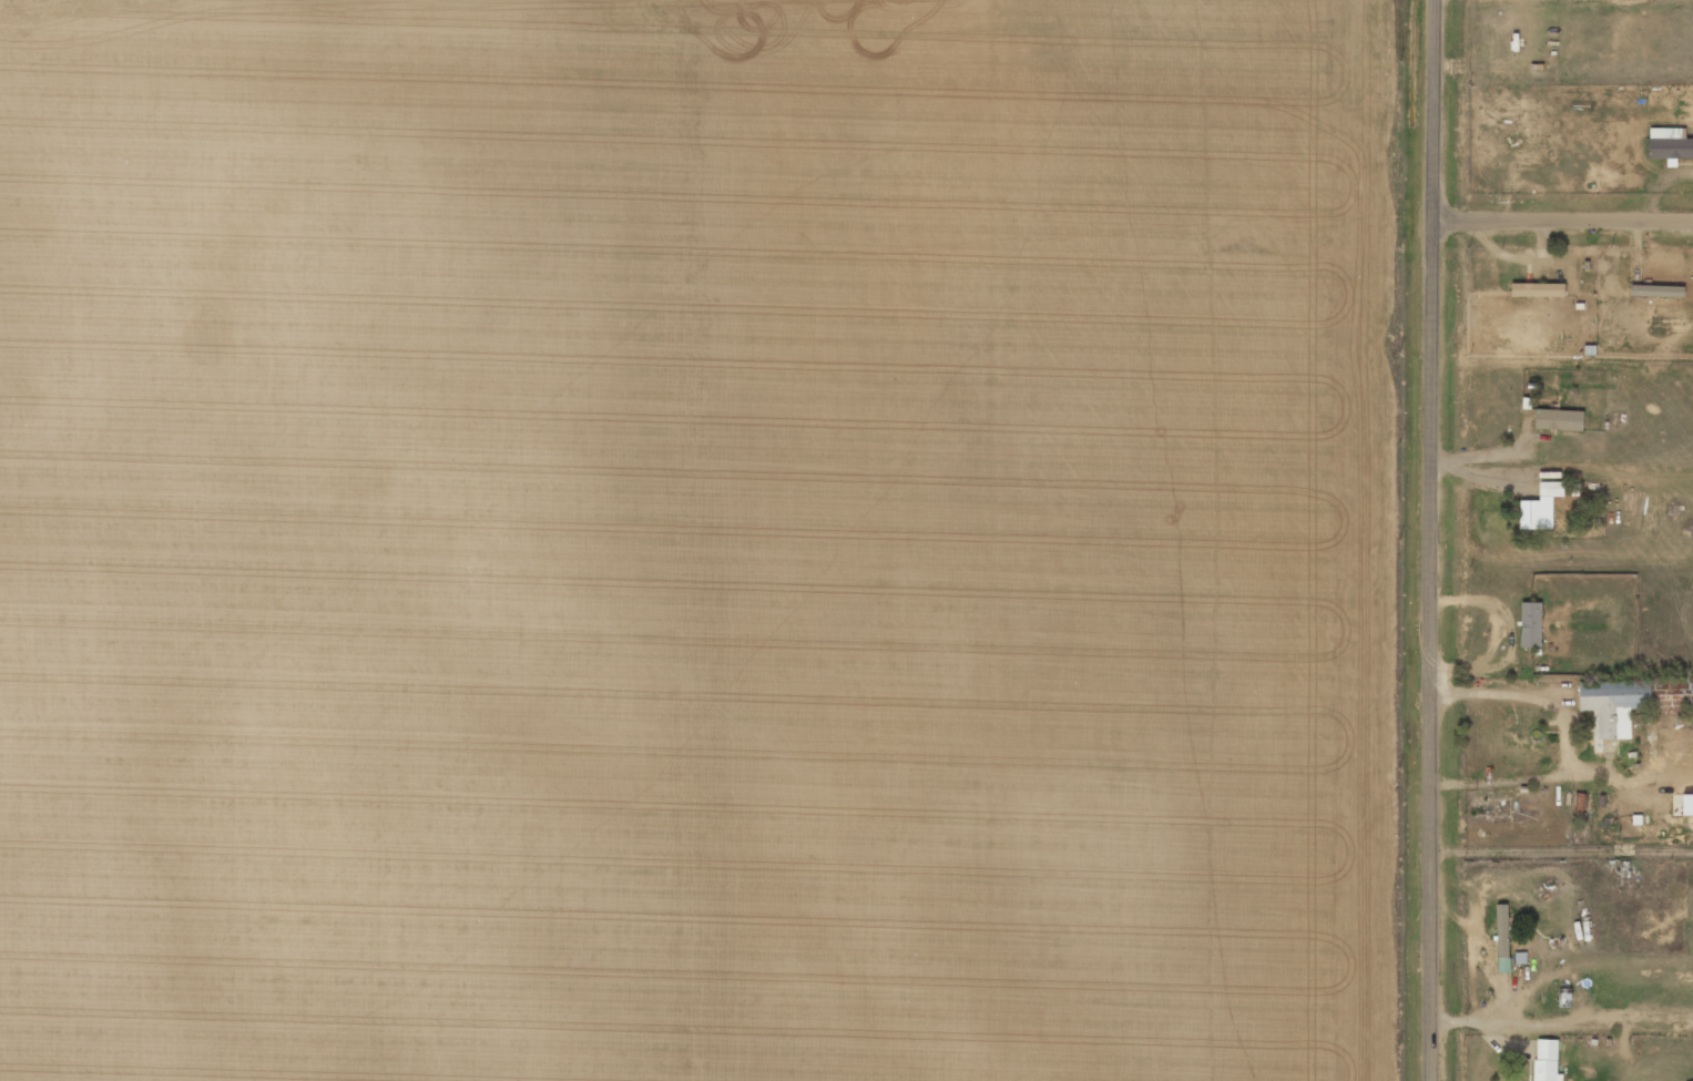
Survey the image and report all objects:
building: (1669, 144)
road: (1564, 214)
building: (1537, 289)
building: (1656, 290)
building: (1558, 419)
building: (1551, 488)
building: (1529, 514)
road: (1435, 540)
building: (1530, 624)
building: (1665, 701)
building: (1613, 704)
building: (1608, 748)
building: (1686, 804)
building: (1502, 938)
building: (1546, 1060)

